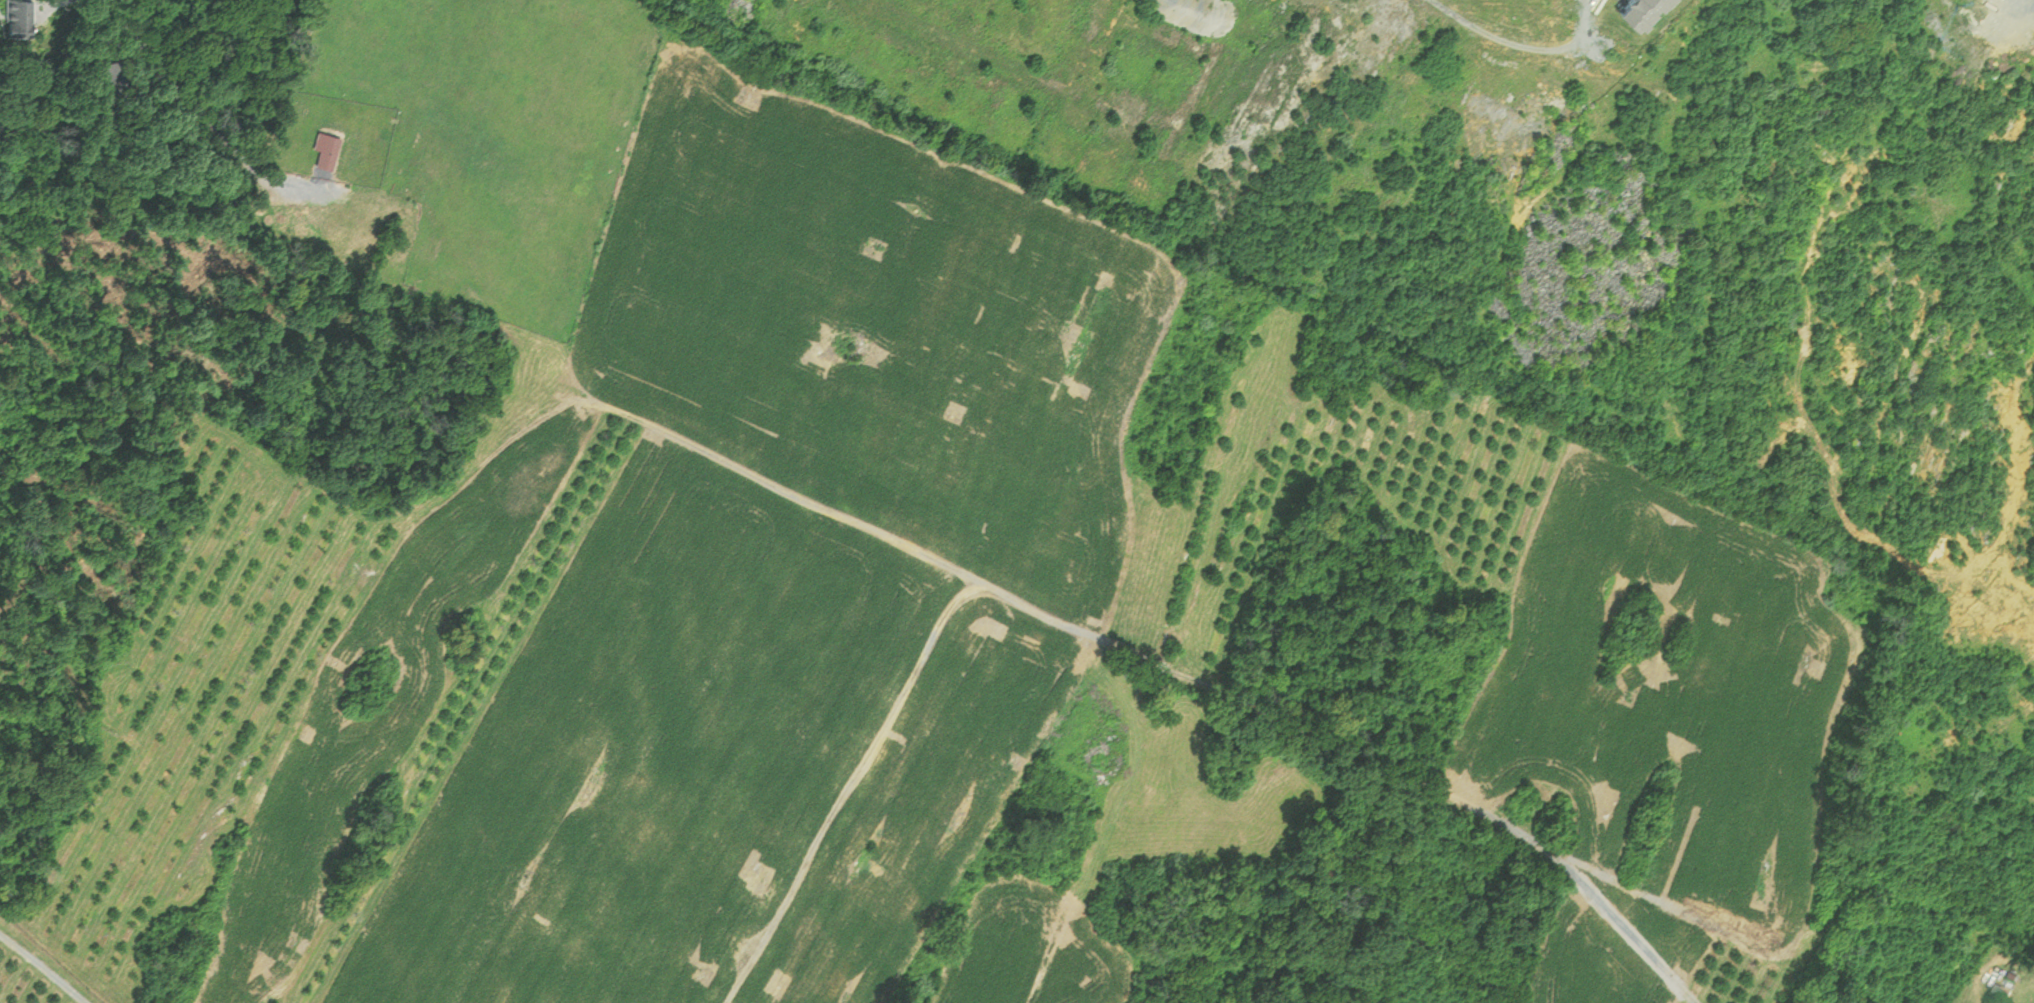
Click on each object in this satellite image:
building: (27, 18)
building: (121, 69)
building: (335, 103)
road: (45, 966)
building: (1999, 991)

